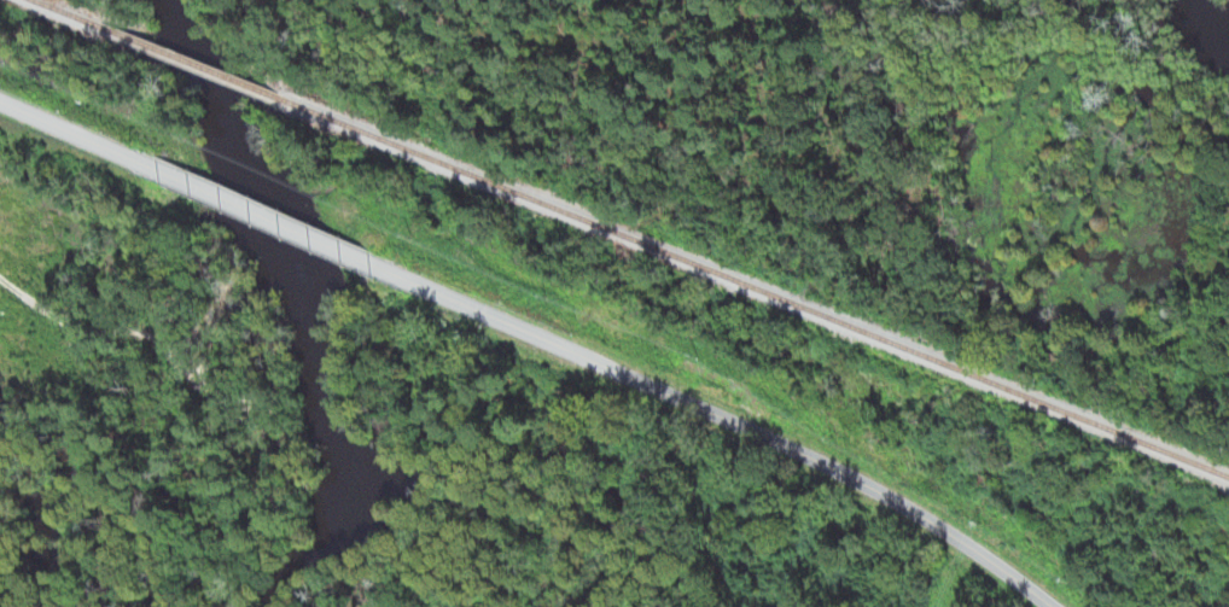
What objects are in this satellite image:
railway: (69, 12)
railway: (190, 58)
road: (80, 124)
road: (254, 199)
railway: (755, 282)
road: (713, 413)

